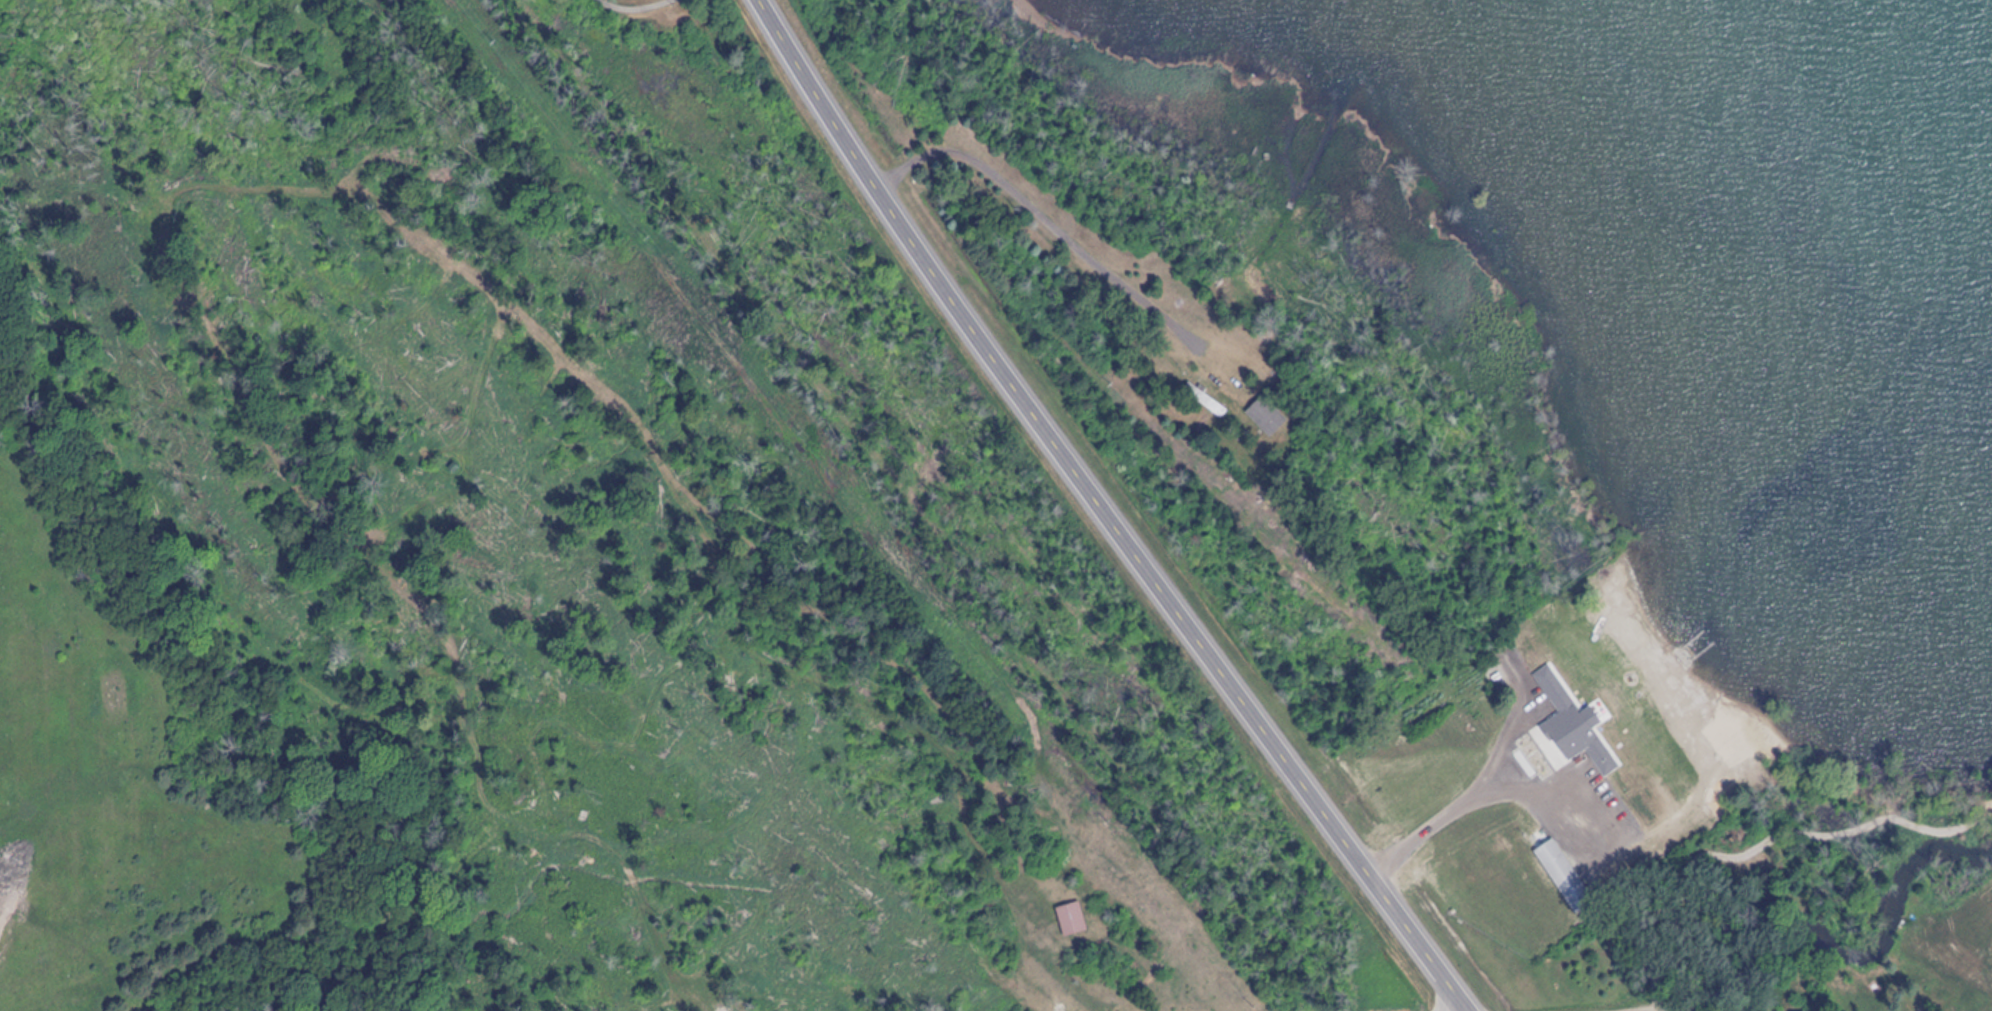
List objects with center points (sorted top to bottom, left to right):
road: (632, 20)
building: (1269, 416)
road: (1099, 510)
building: (1577, 722)
road: (1528, 786)
building: (1566, 877)
building: (1074, 919)

